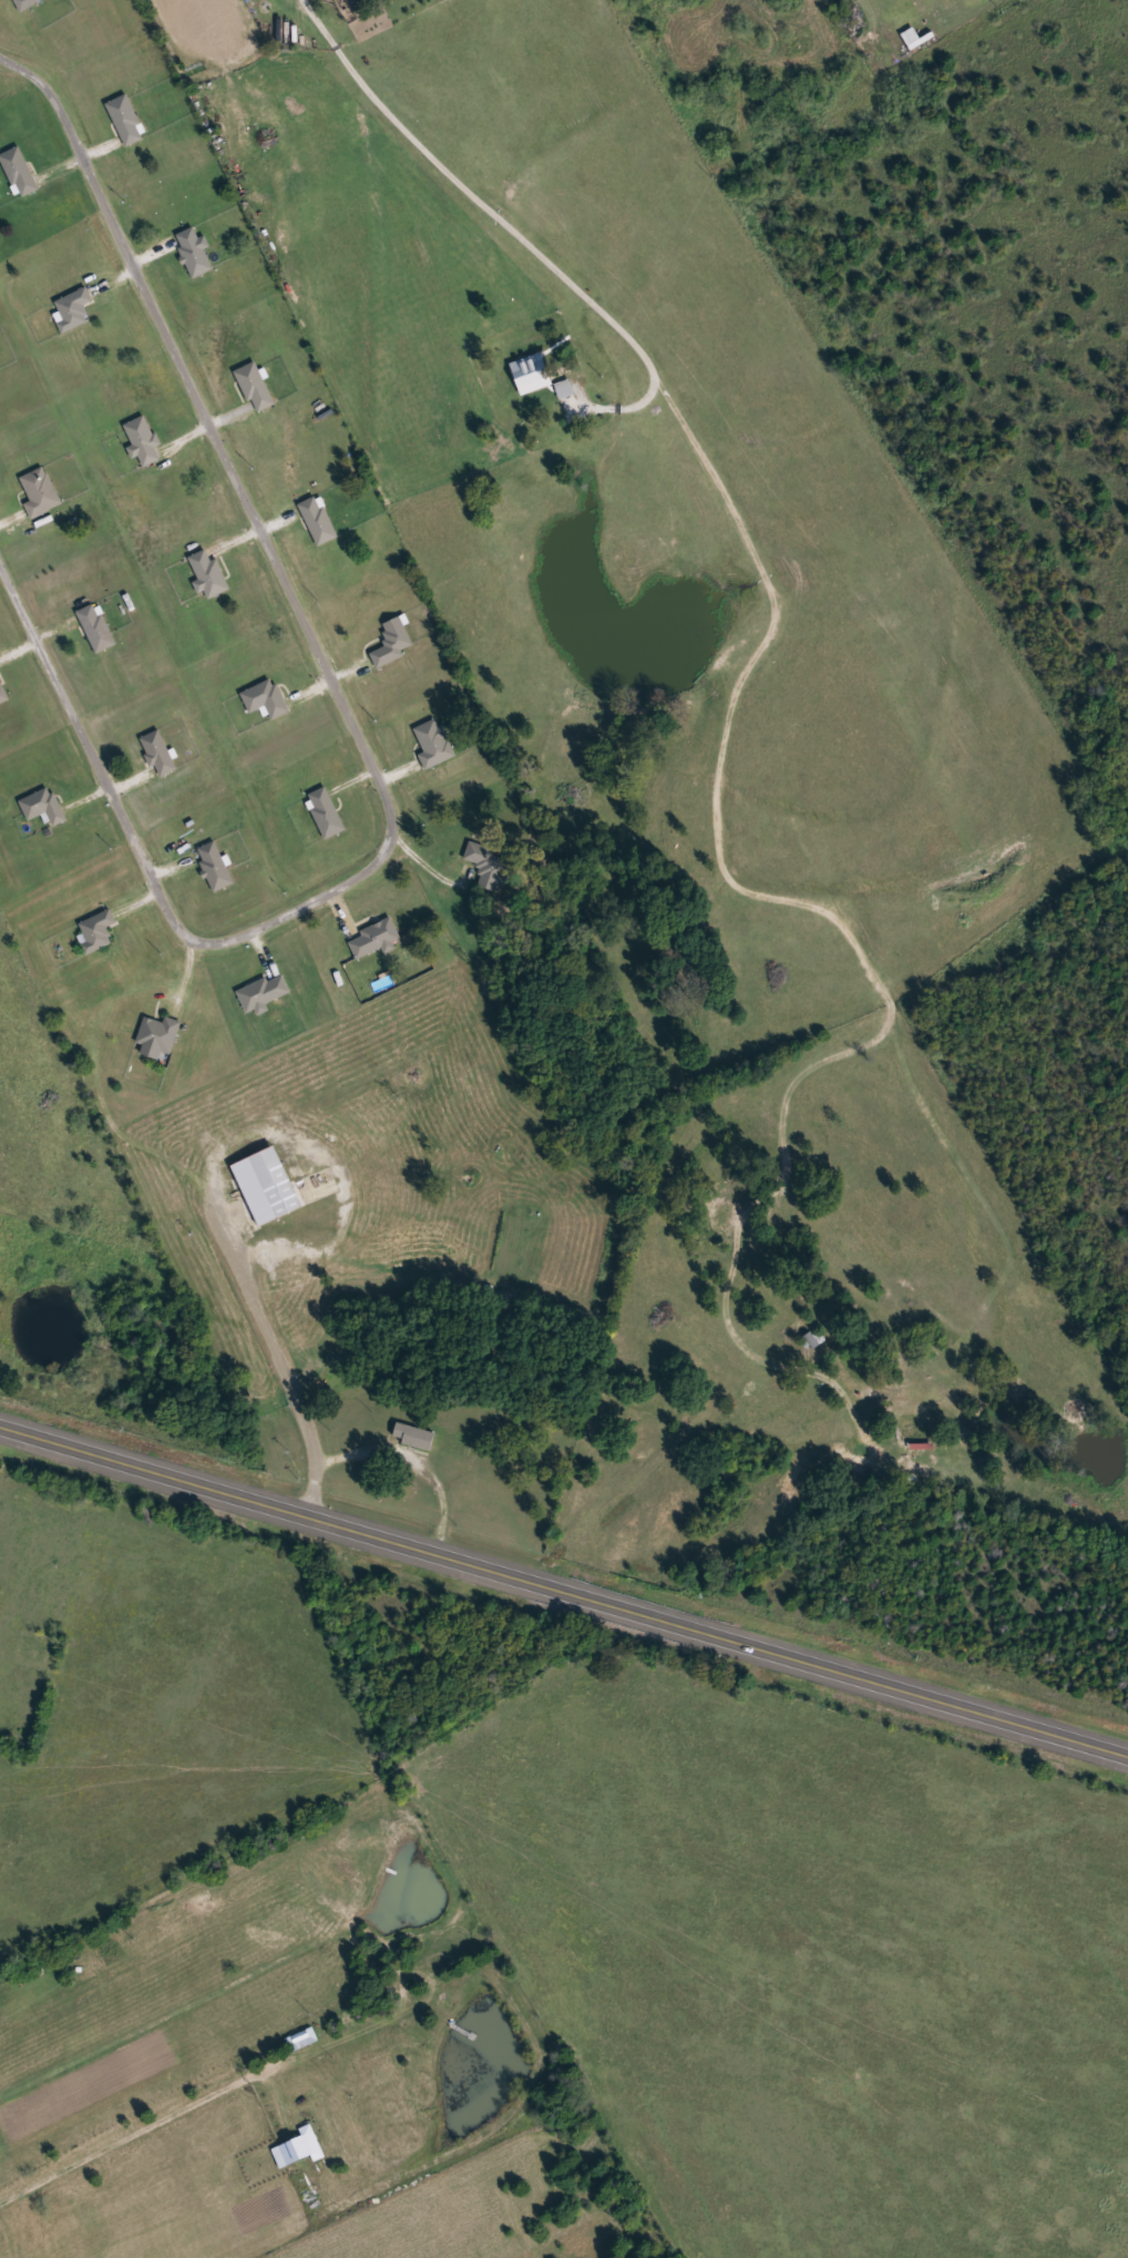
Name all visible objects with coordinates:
building: (25, 3)
building: (126, 120)
building: (20, 172)
building: (194, 252)
building: (74, 310)
building: (0, 370)
building: (533, 374)
building: (256, 388)
building: (565, 390)
building: (143, 440)
building: (41, 493)
building: (318, 521)
building: (209, 575)
building: (96, 629)
building: (392, 643)
building: (3, 694)
building: (266, 699)
road: (355, 733)
building: (434, 744)
building: (160, 754)
building: (44, 806)
building: (326, 813)
building: (488, 864)
building: (215, 866)
building: (98, 931)
building: (375, 939)
building: (263, 994)
building: (158, 1038)
building: (268, 1185)
building: (814, 1341)
road: (295, 1363)
building: (414, 1437)
building: (922, 1447)
road: (425, 1460)
road: (563, 1584)
building: (302, 2040)
building: (309, 2144)
building: (284, 2155)

